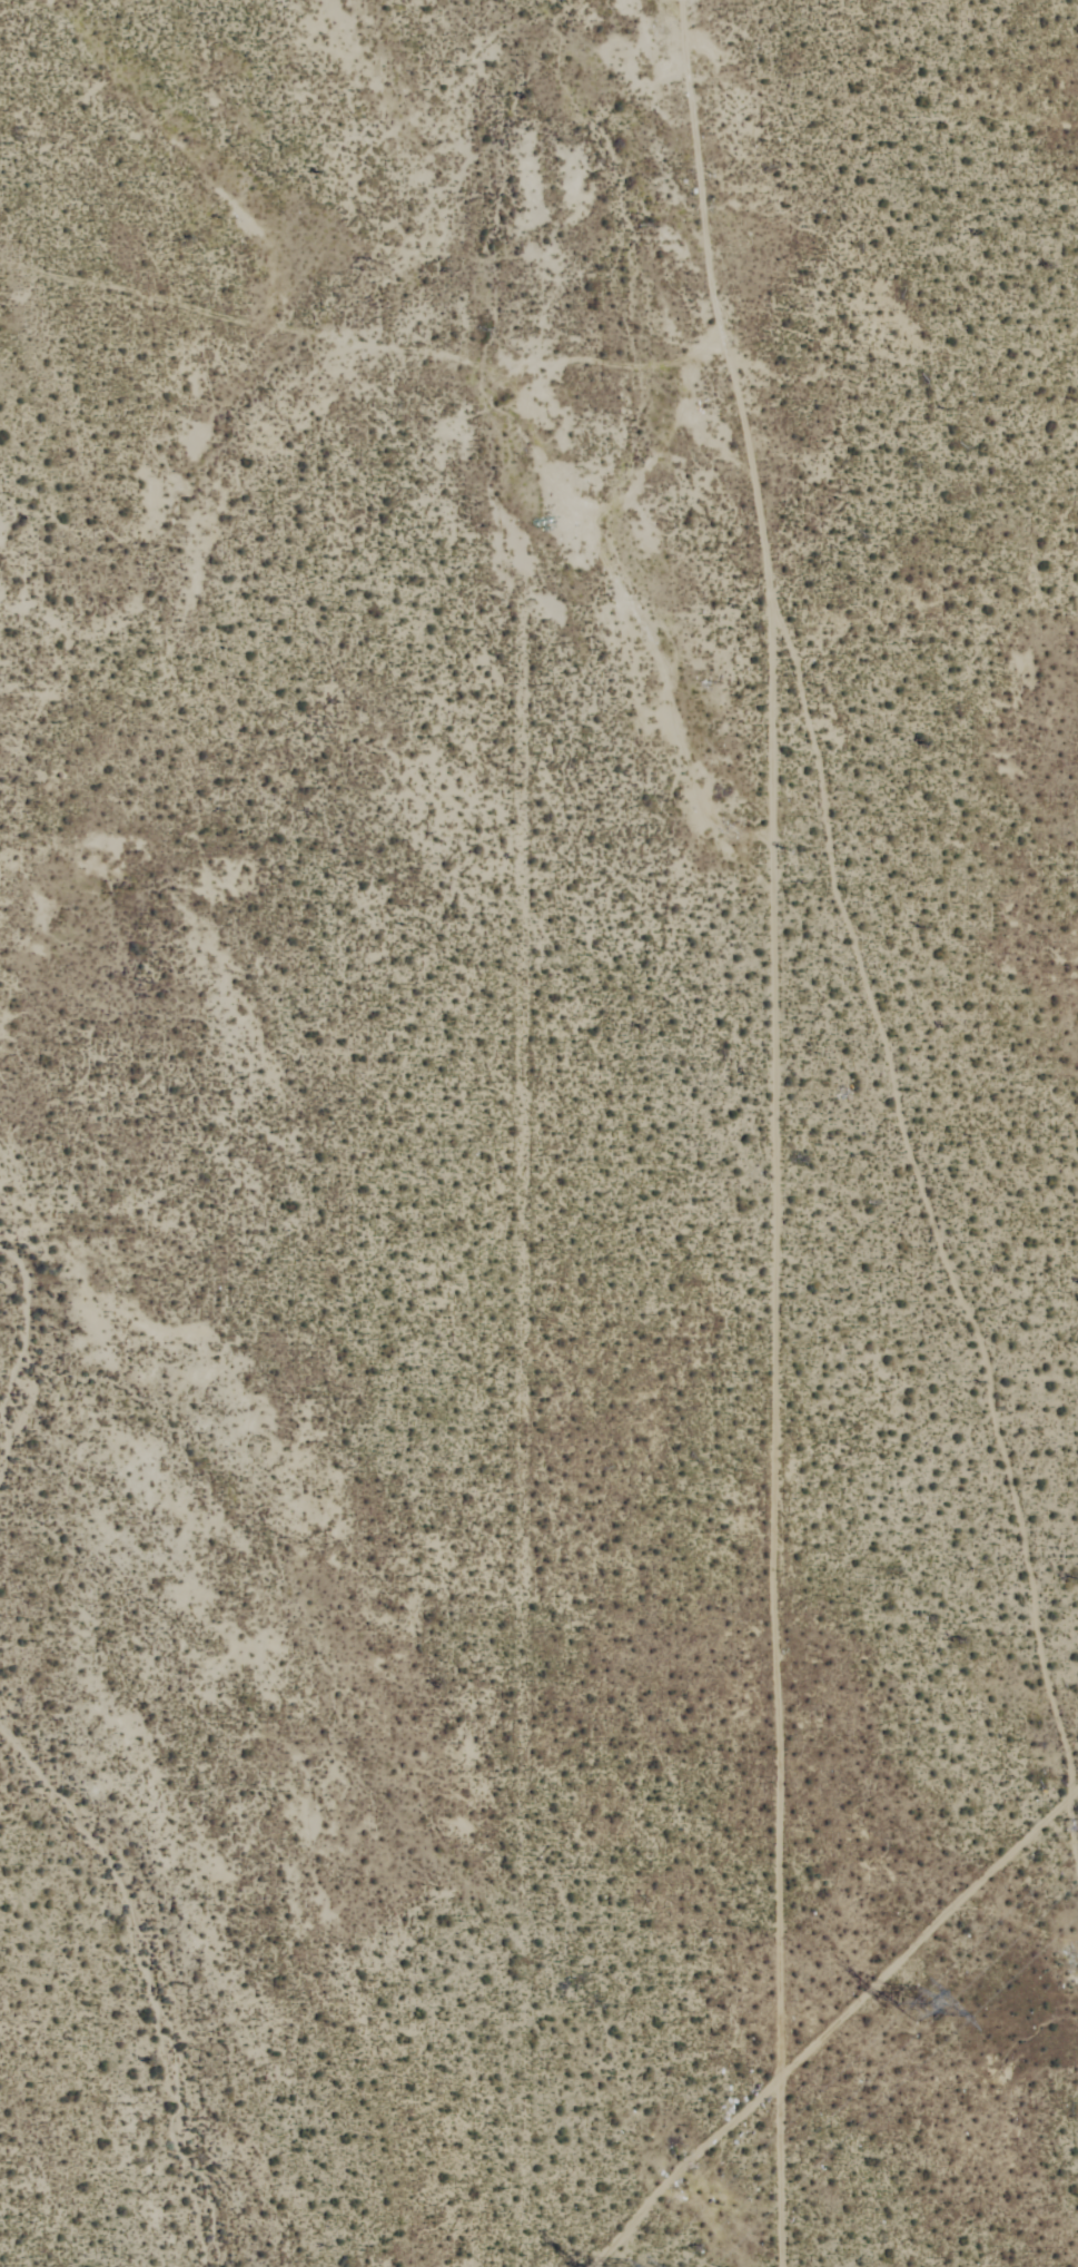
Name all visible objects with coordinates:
road: (769, 1131)
power tower: (909, 1999)

